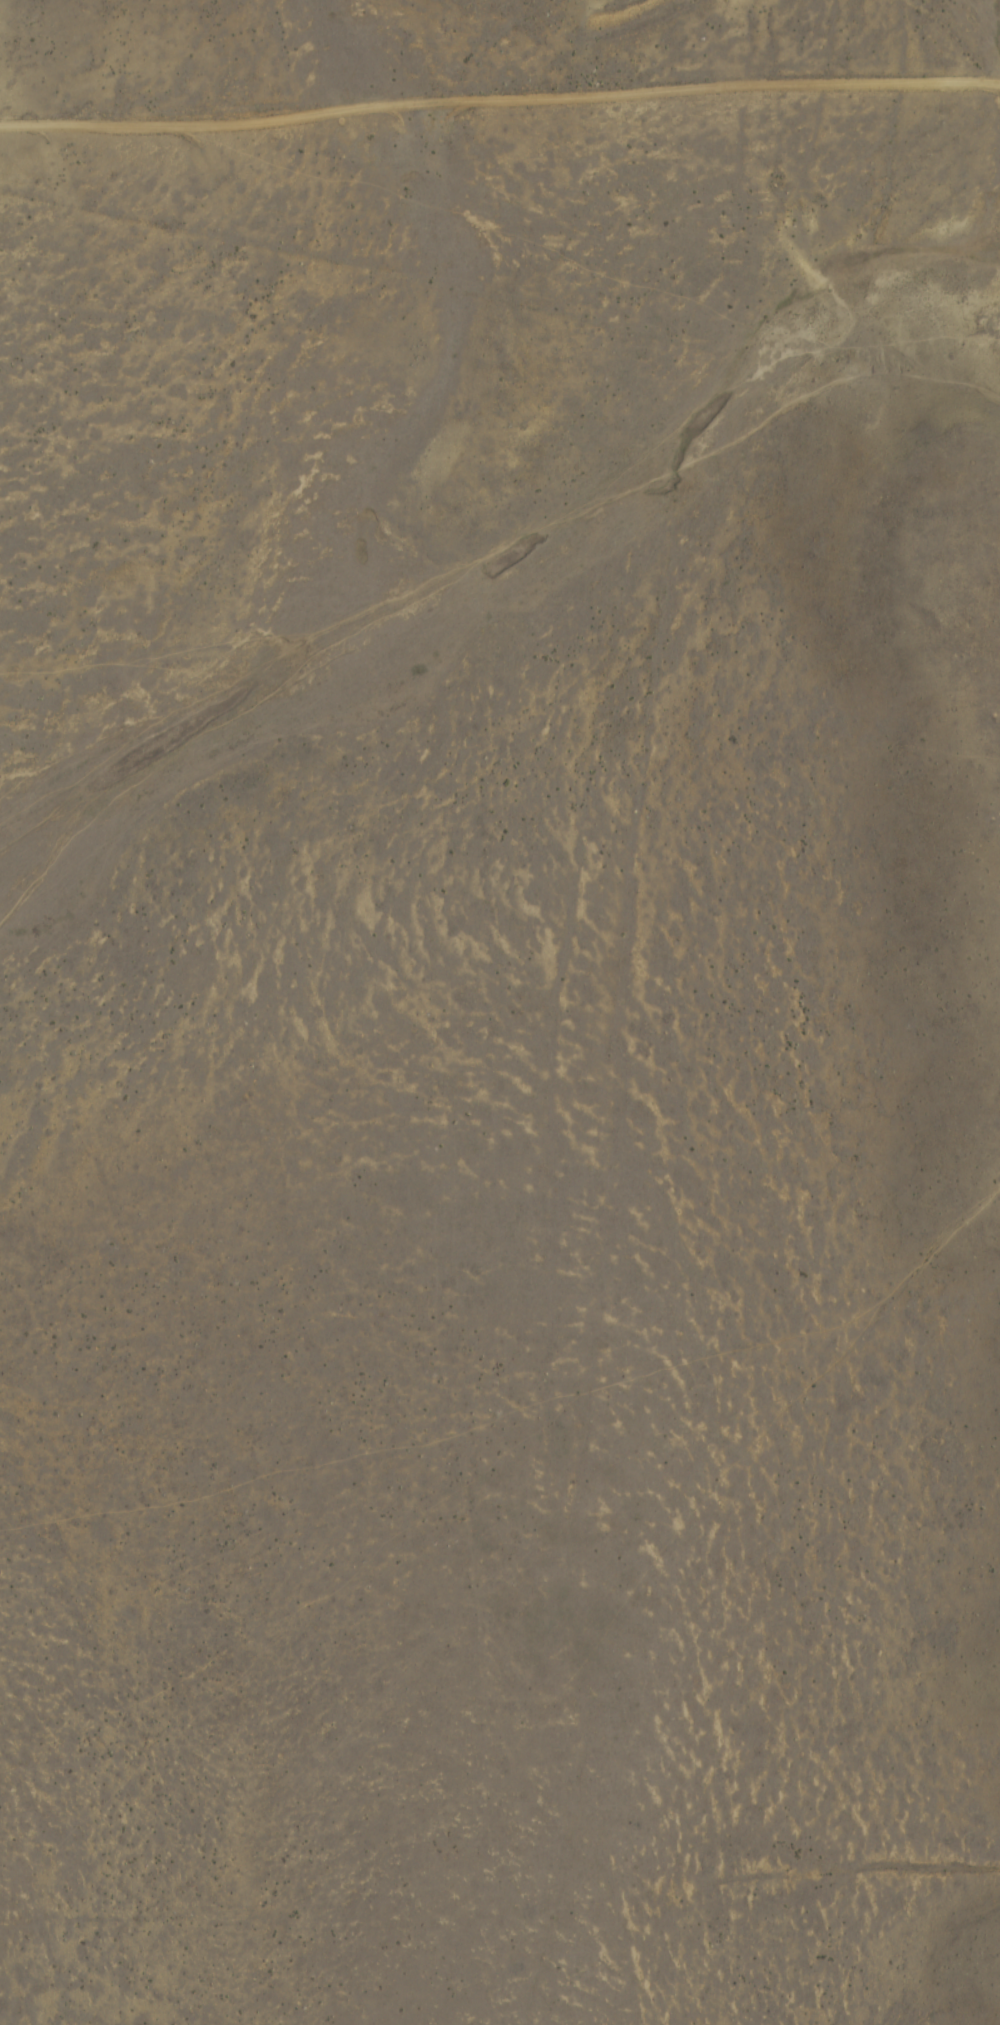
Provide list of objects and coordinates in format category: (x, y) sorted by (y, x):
road: (499, 101)

